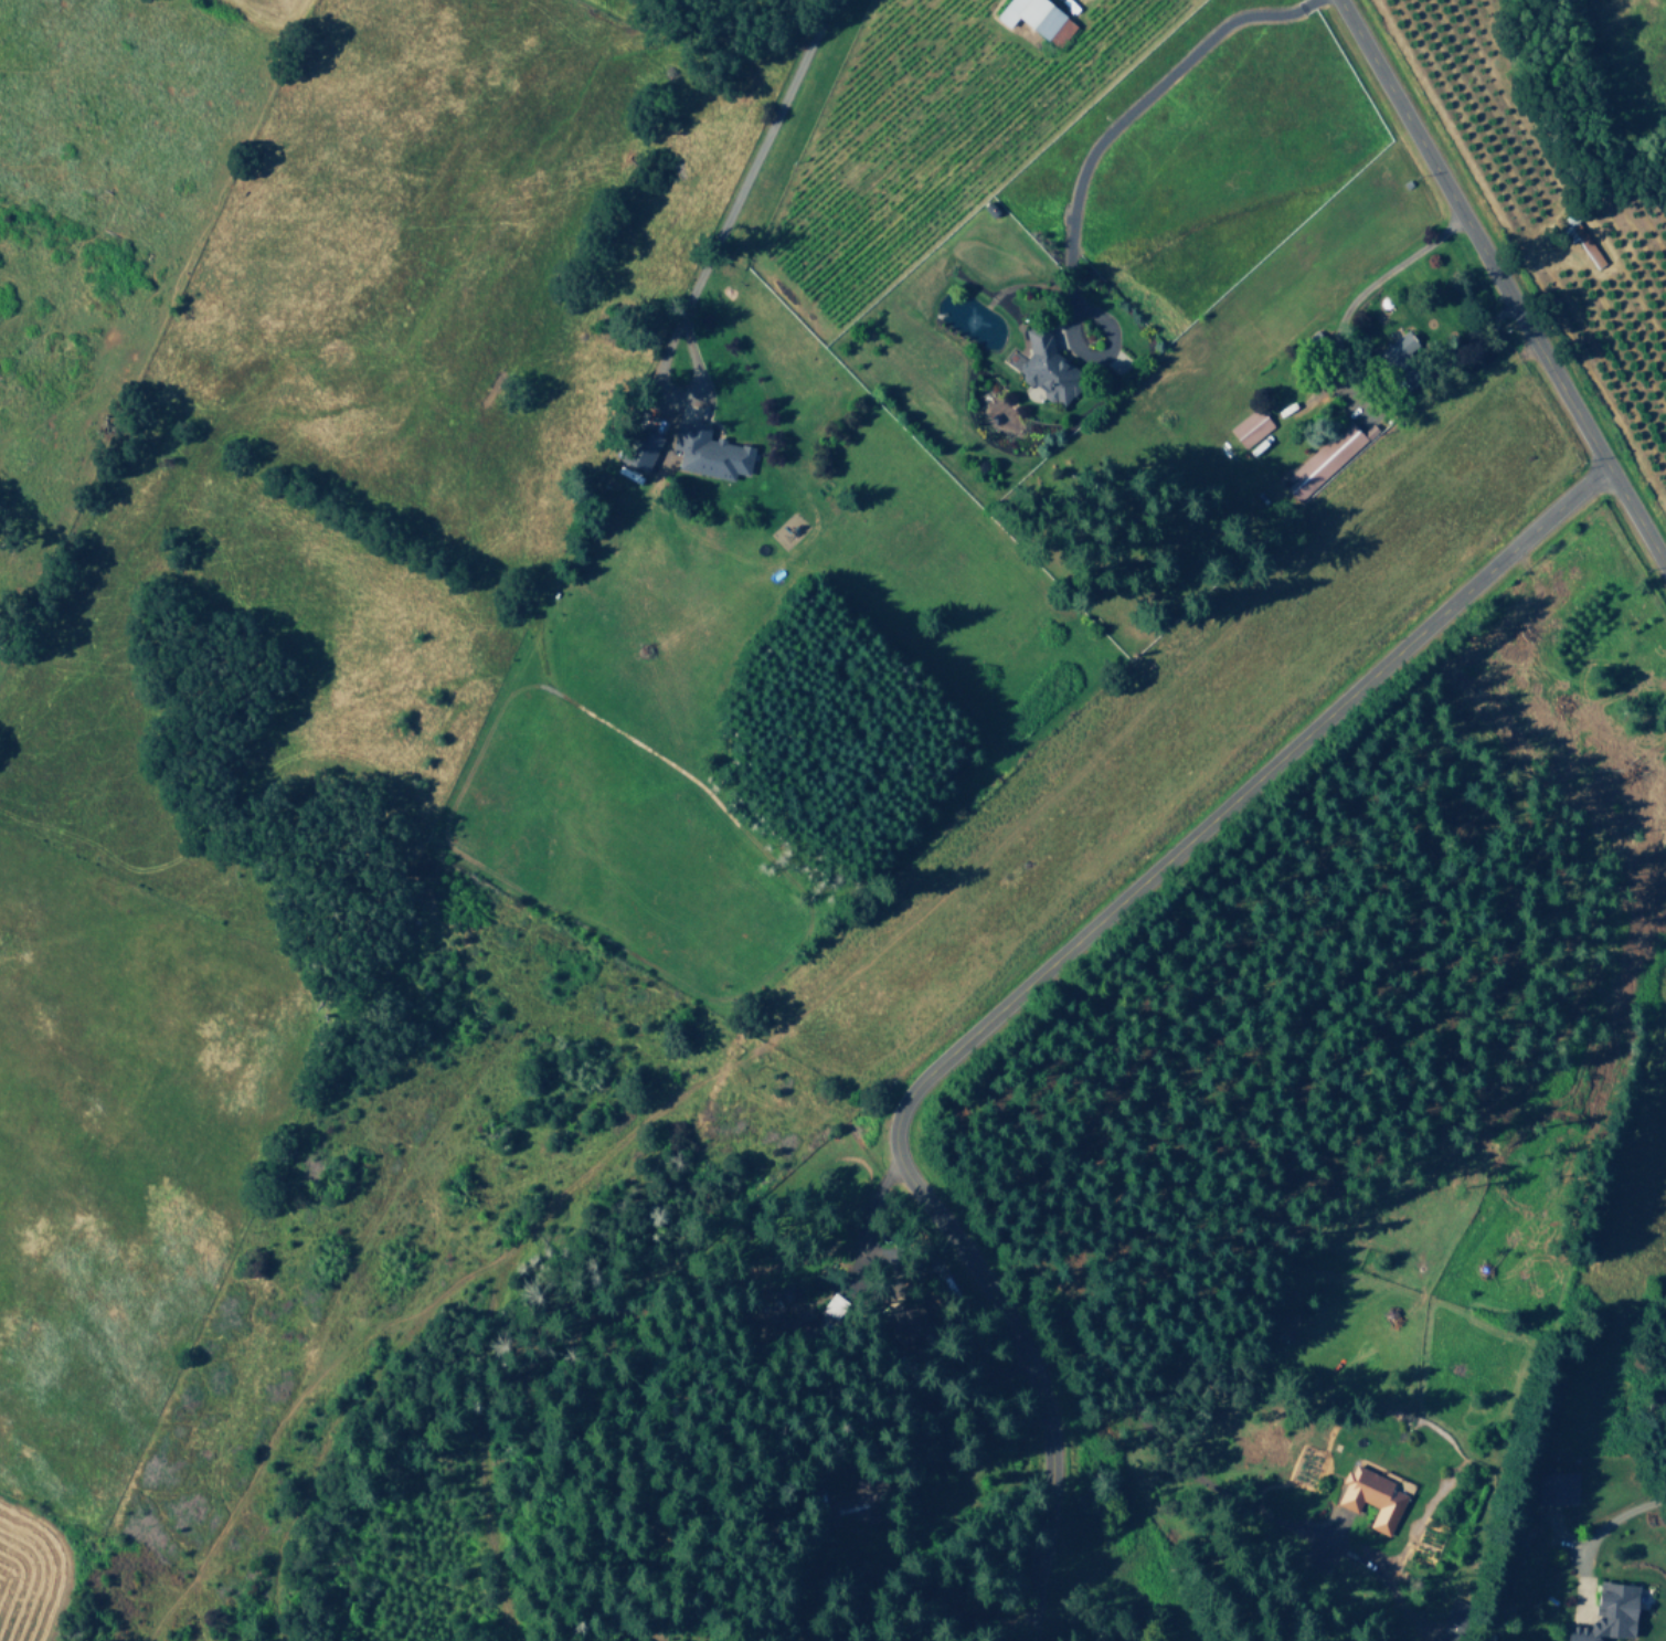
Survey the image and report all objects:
building: (1036, 19)
road: (1500, 285)
building: (1396, 346)
building: (1046, 367)
road: (1335, 389)
building: (1248, 427)
building: (638, 448)
building: (707, 452)
building: (1322, 460)
road: (1039, 981)
building: (781, 1311)
building: (906, 1315)
building: (1554, 1488)
building: (1369, 1496)
building: (862, 1497)
building: (1606, 1613)
building: (1451, 1620)

